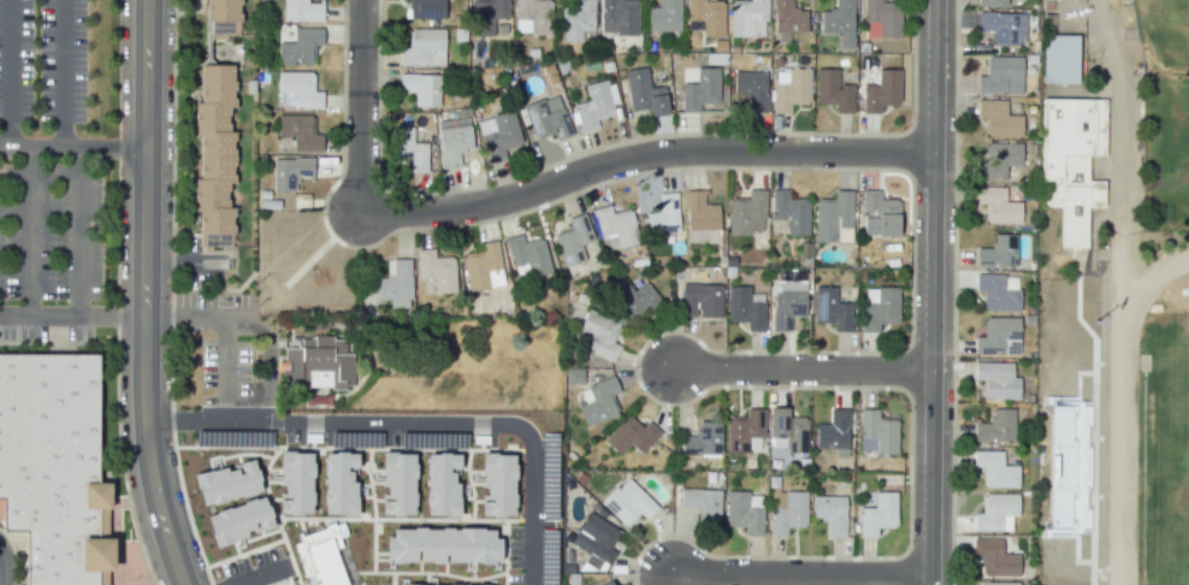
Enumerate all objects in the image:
building: (992, 2)
building: (425, 8)
building: (301, 11)
building: (486, 16)
building: (532, 16)
building: (664, 16)
building: (708, 16)
building: (883, 16)
building: (223, 17)
building: (619, 17)
building: (788, 17)
building: (575, 18)
building: (747, 18)
building: (839, 22)
building: (1002, 26)
park: (1164, 35)
building: (300, 46)
building: (422, 48)
building: (1059, 59)
road: (7, 73)
road: (65, 73)
building: (1000, 76)
building: (421, 88)
building: (789, 88)
building: (700, 89)
building: (751, 89)
building: (833, 90)
building: (881, 91)
building: (644, 93)
building: (593, 106)
road: (359, 107)
road: (1120, 117)
building: (548, 118)
building: (999, 118)
building: (298, 131)
building: (499, 135)
street lamp: (627, 137)
building: (452, 140)
road: (4, 147)
road: (36, 147)
road: (105, 147)
building: (408, 149)
road: (641, 154)
building: (214, 155)
building: (998, 160)
building: (1071, 162)
building: (289, 172)
building: (1000, 205)
building: (791, 212)
building: (747, 213)
building: (879, 214)
building: (664, 217)
building: (700, 218)
building: (833, 218)
building: (615, 227)
road: (32, 231)
road: (79, 231)
building: (573, 240)
building: (998, 252)
building: (528, 254)
park: (300, 262)
building: (481, 267)
building: (436, 270)
building: (395, 283)
road: (931, 291)
building: (996, 292)
road: (144, 294)
building: (633, 299)
building: (700, 300)
building: (787, 302)
building: (746, 307)
building: (879, 307)
building: (832, 309)
road: (161, 318)
building: (599, 333)
building: (998, 336)
road: (268, 355)
street lamp: (956, 360)
building: (317, 365)
road: (800, 368)
building: (996, 379)
building: (599, 402)
track: (1147, 410)
road: (184, 418)
road: (431, 422)
building: (994, 426)
building: (788, 430)
building: (744, 431)
building: (833, 432)
building: (876, 432)
building: (631, 436)
building: (702, 439)
park: (1164, 439)
building: (52, 465)
building: (995, 469)
building: (227, 483)
building: (295, 483)
building: (339, 483)
building: (397, 483)
building: (442, 484)
building: (497, 484)
building: (628, 502)
building: (702, 503)
building: (744, 512)
building: (995, 512)
building: (787, 513)
building: (830, 513)
building: (877, 514)
building: (238, 520)
building: (596, 538)
building: (442, 545)
building: (994, 557)
building: (319, 559)
road: (530, 563)
road: (2, 567)
road: (261, 575)
road: (801, 577)
building: (608, 583)
building: (1000, 583)
building: (455, 584)

